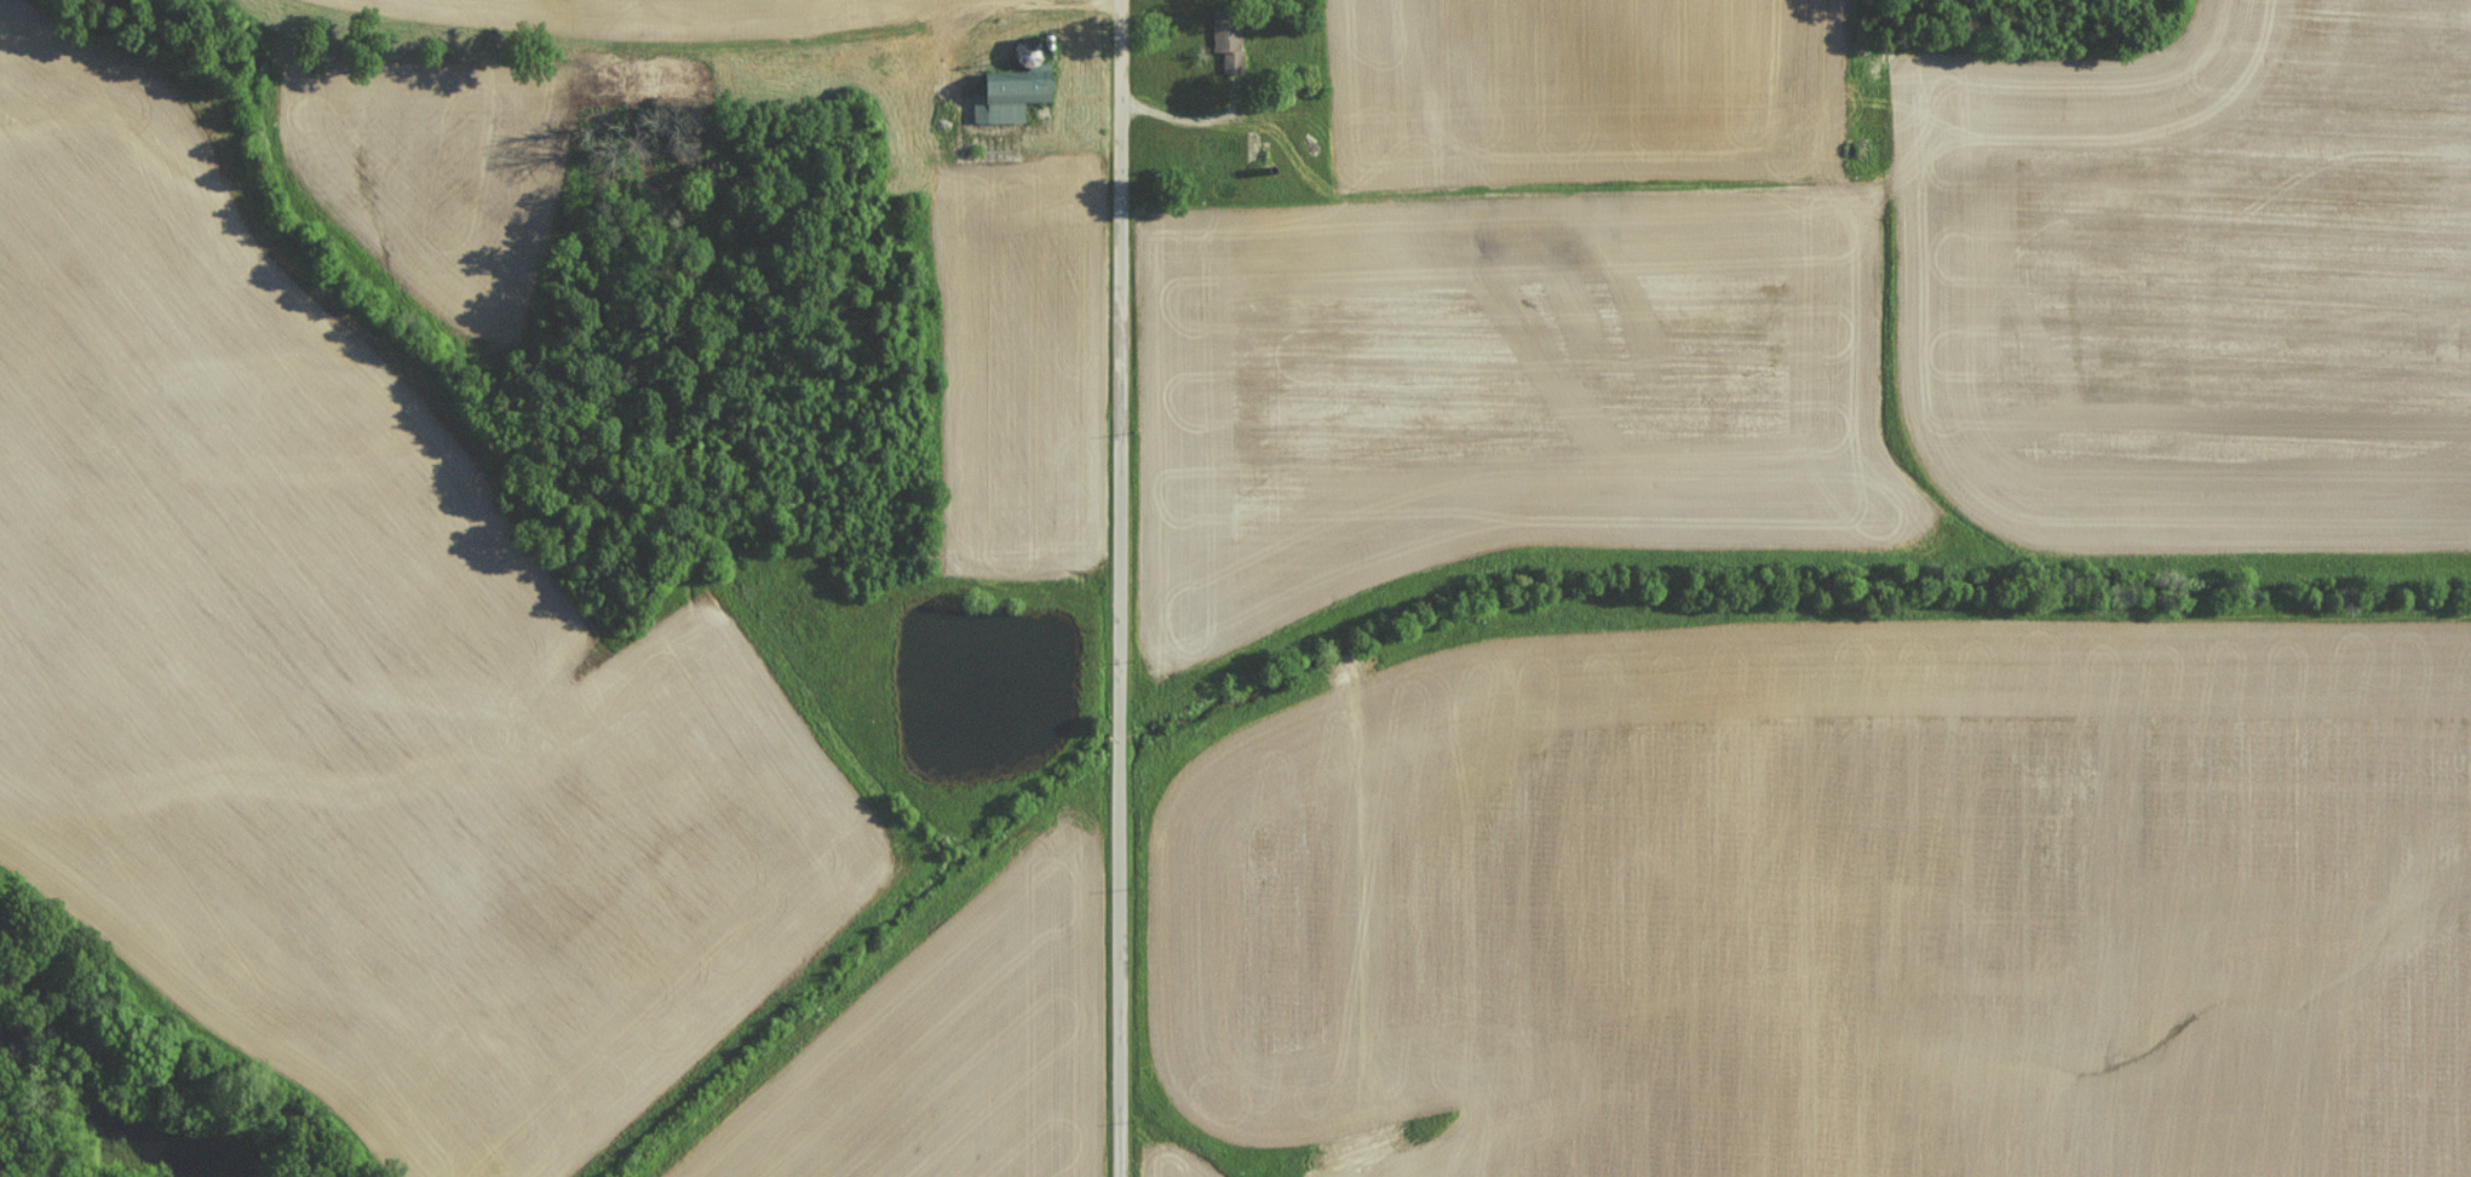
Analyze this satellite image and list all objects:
building: (1226, 44)
road: (1120, 588)

